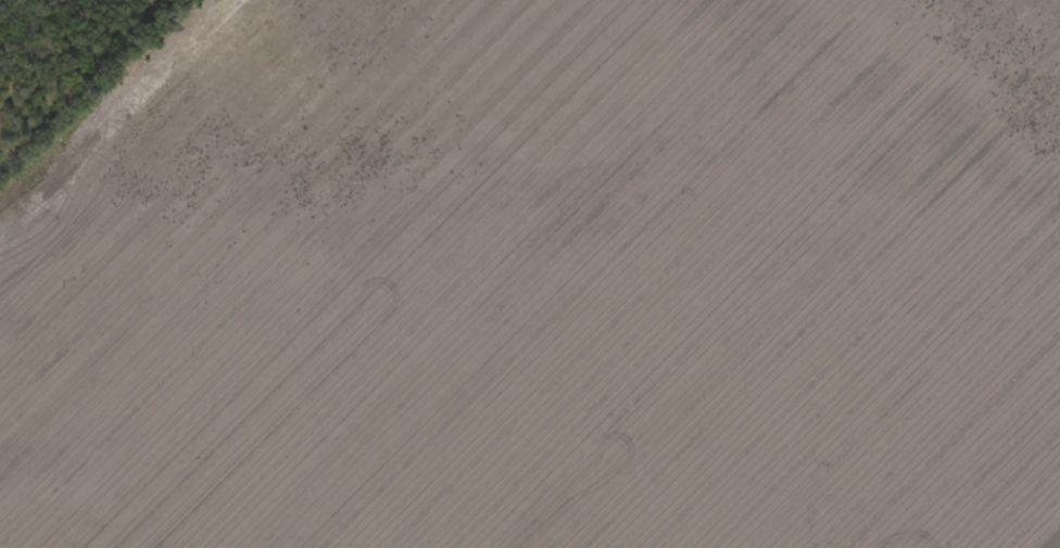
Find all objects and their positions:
crop: (545, 280)

